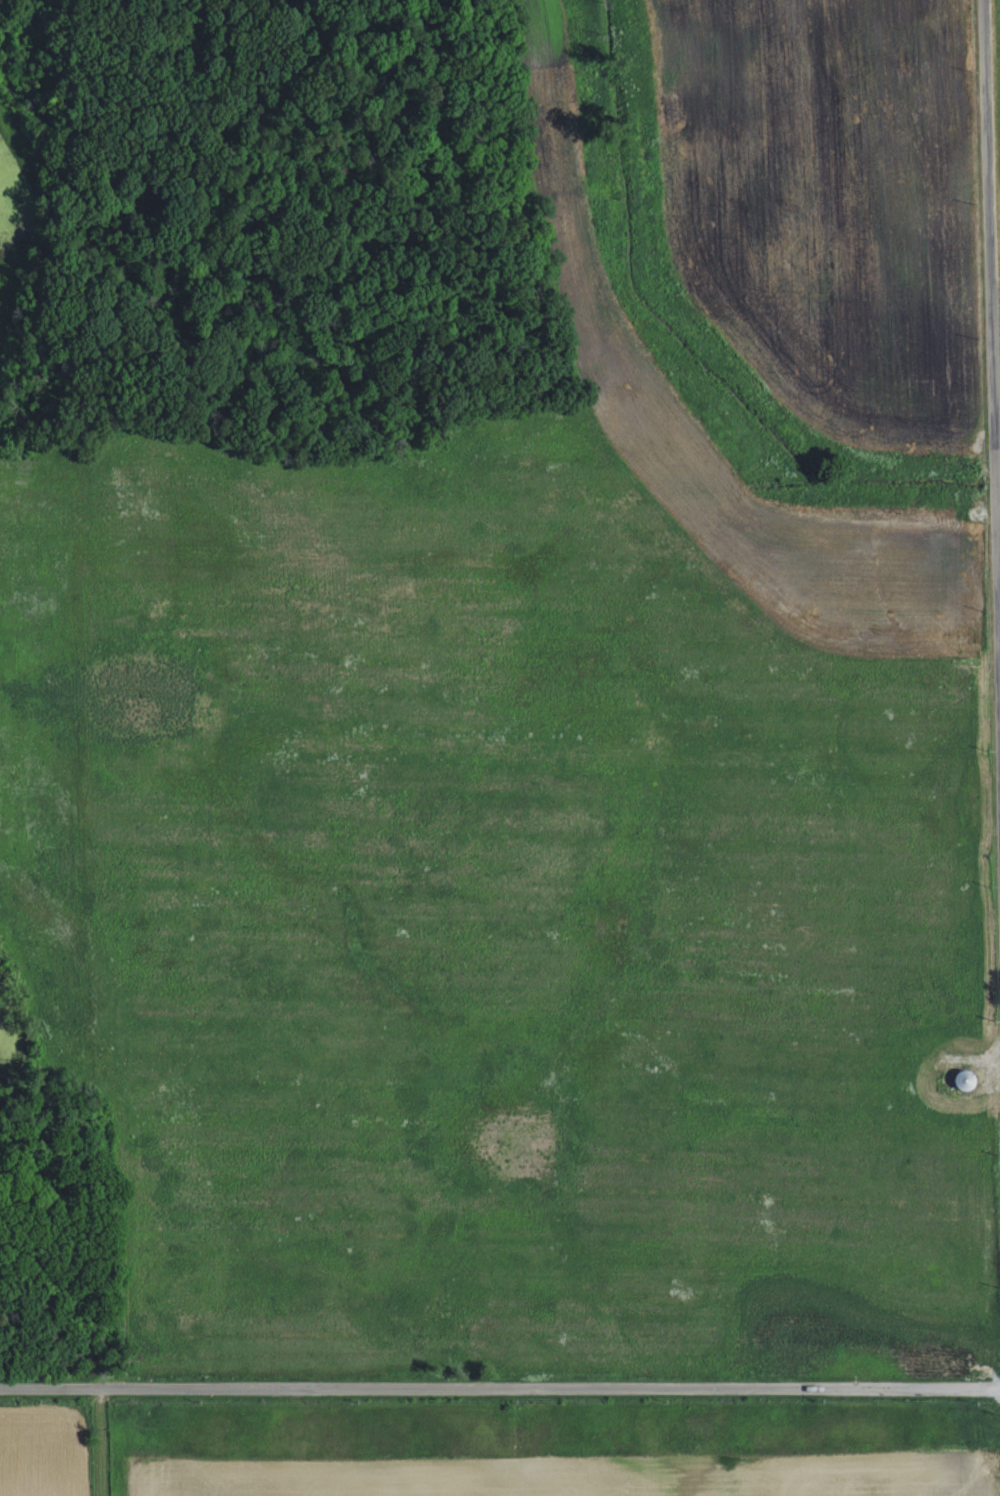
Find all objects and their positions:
road: (993, 290)
road: (499, 1389)

